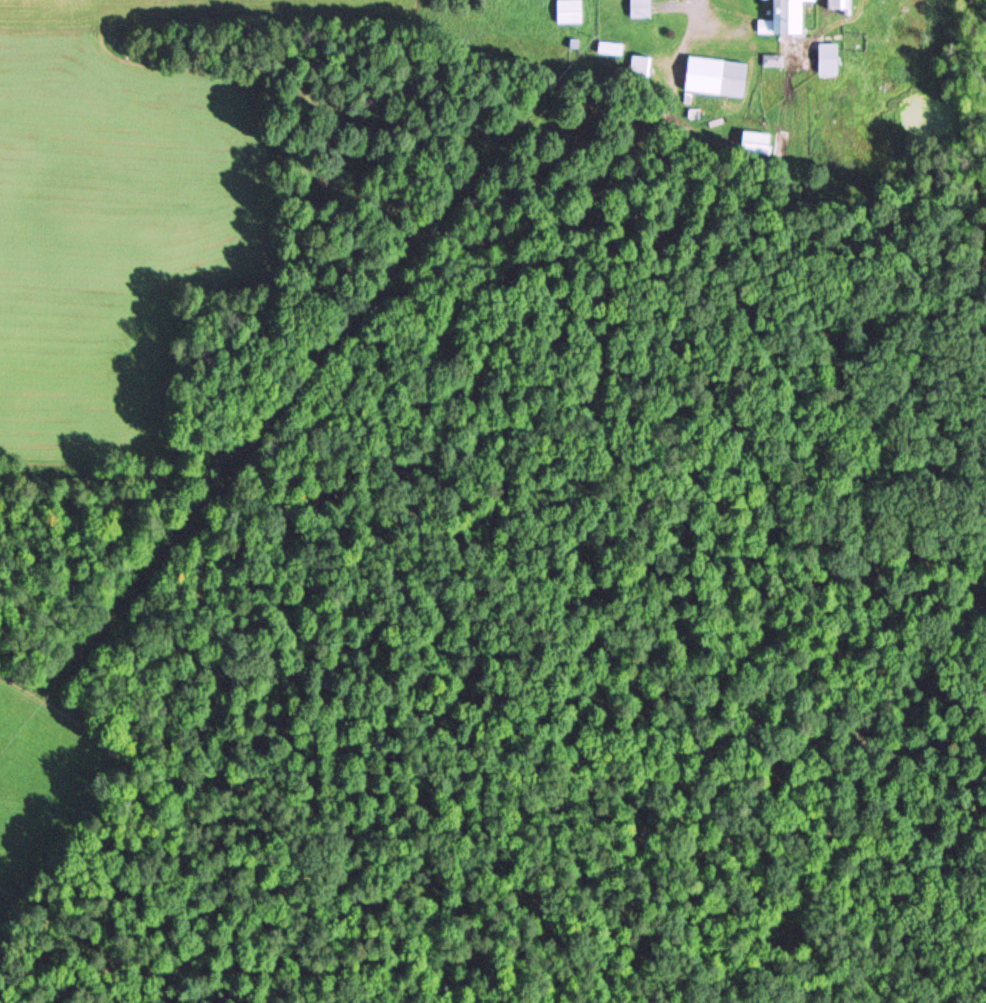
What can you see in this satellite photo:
building: (839, 5)
building: (641, 8)
building: (570, 12)
building: (786, 19)
building: (829, 60)
building: (640, 67)
building: (718, 77)
building: (757, 143)

